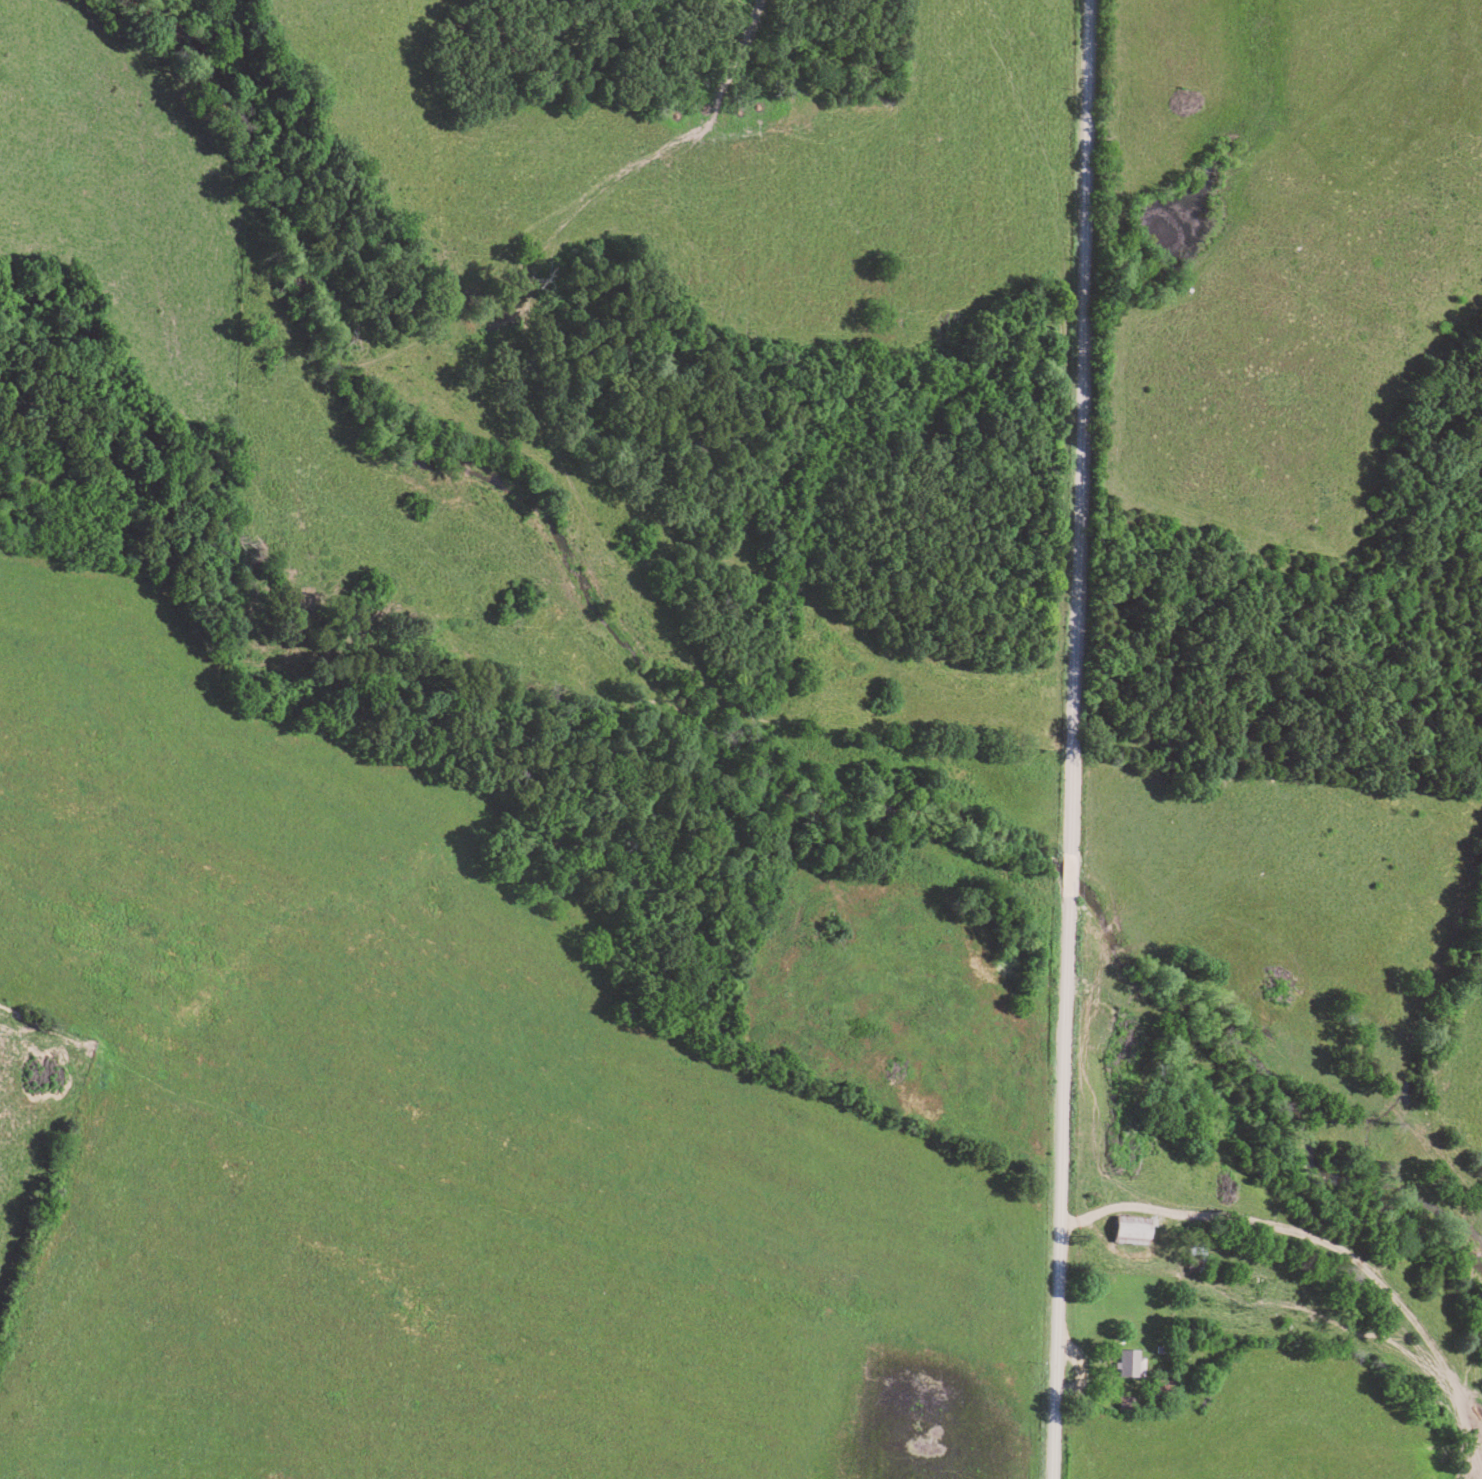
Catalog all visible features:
road: (1072, 739)
building: (1128, 1230)
building: (1125, 1364)

